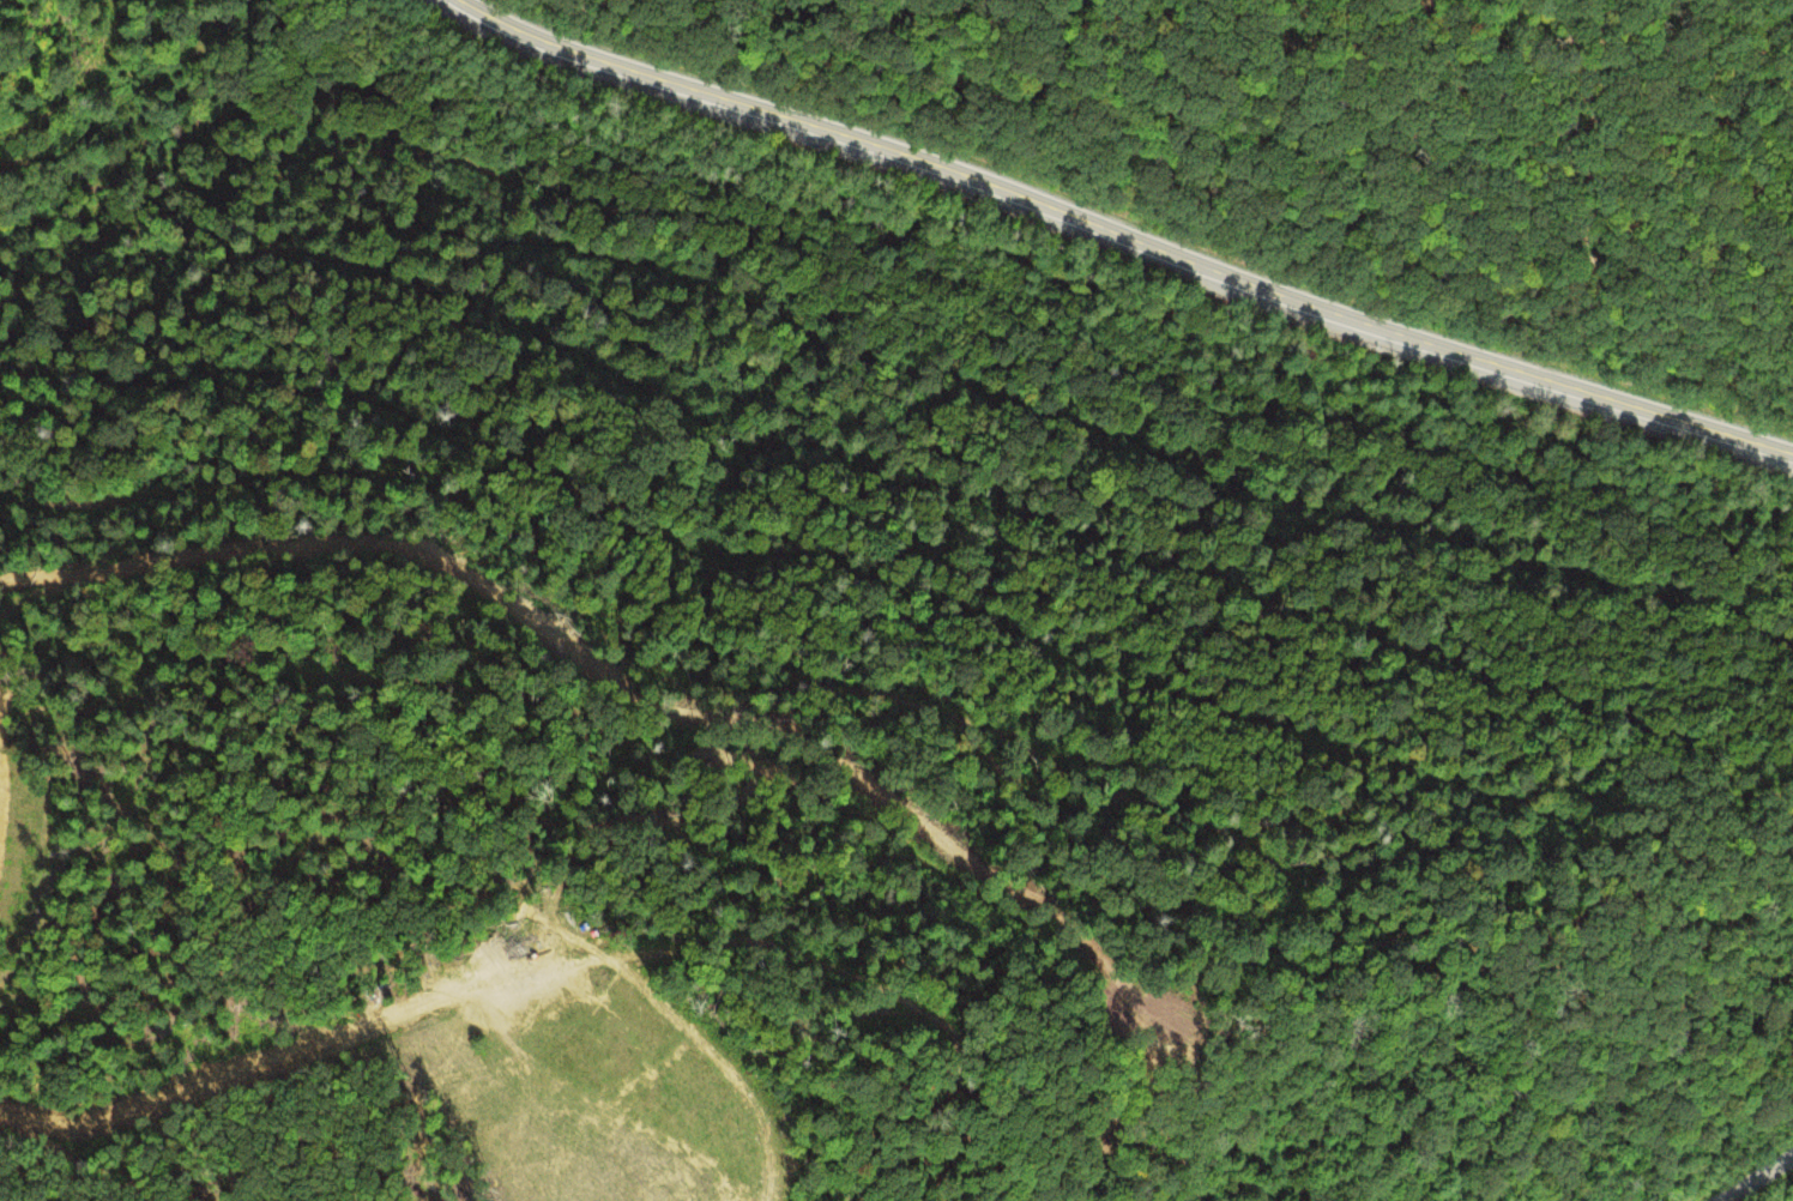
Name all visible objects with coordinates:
road: (1119, 234)
road: (1753, 1175)

